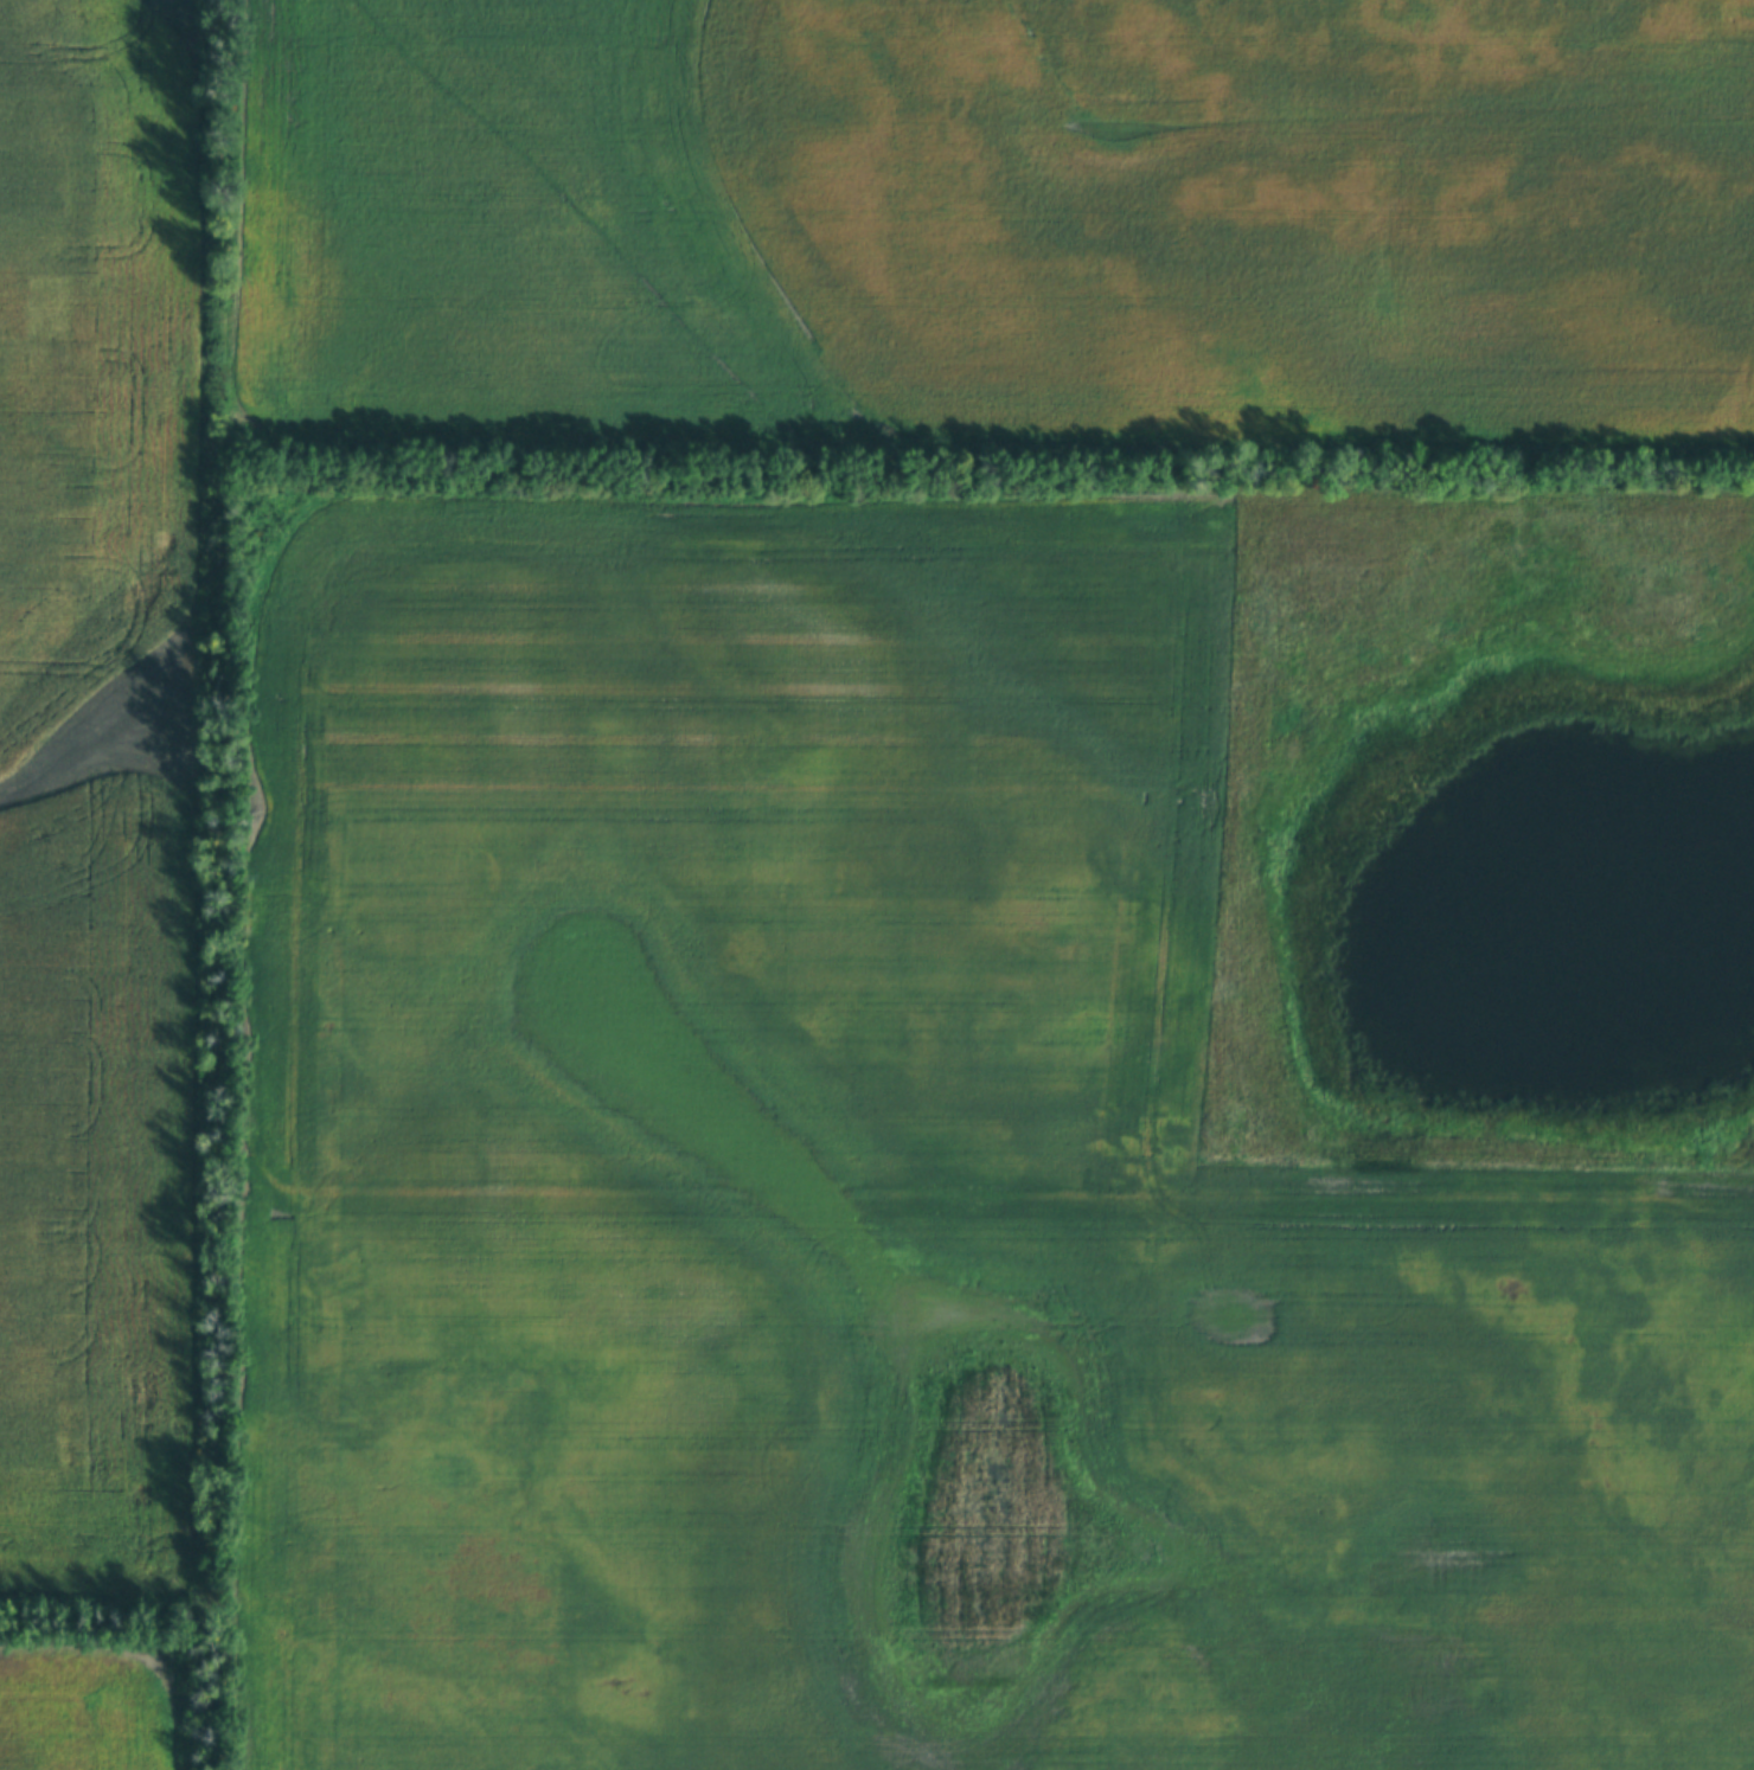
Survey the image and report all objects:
building: (1140, 1585)

